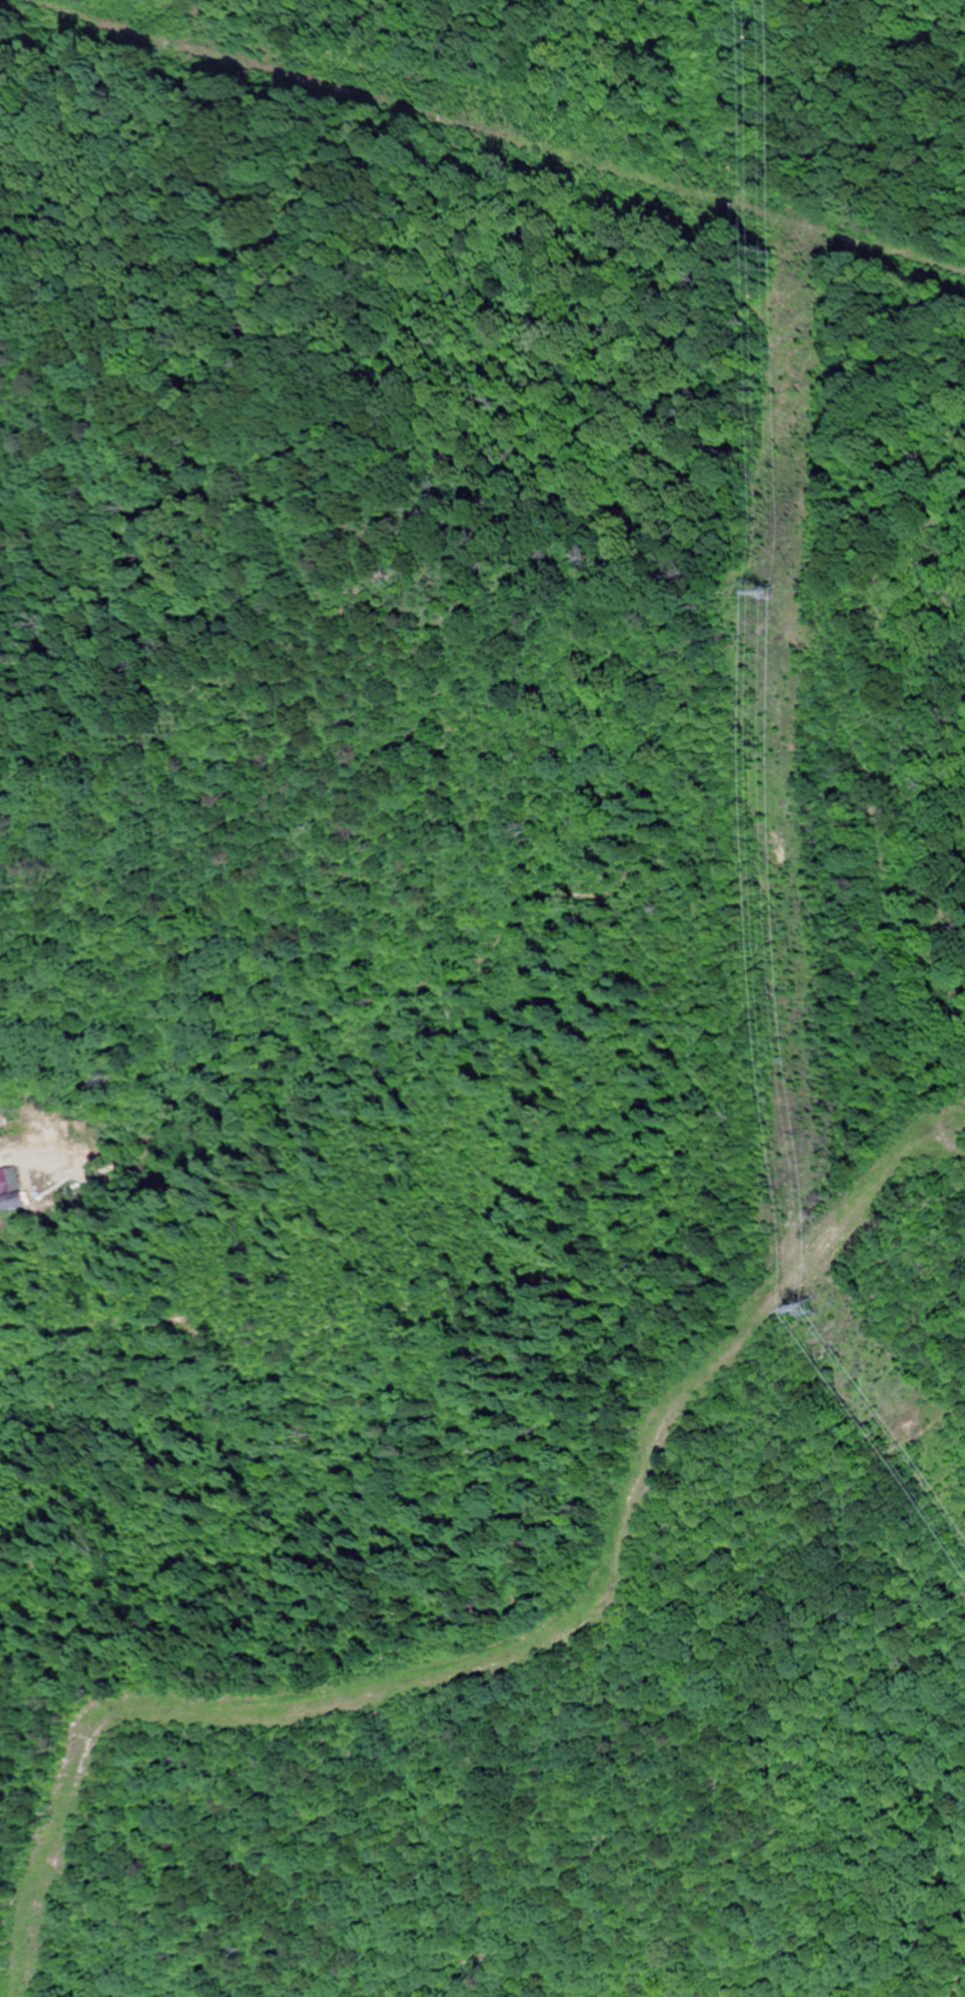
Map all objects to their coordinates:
power tower: (778, 594)
building: (11, 1190)
power tower: (817, 1307)

